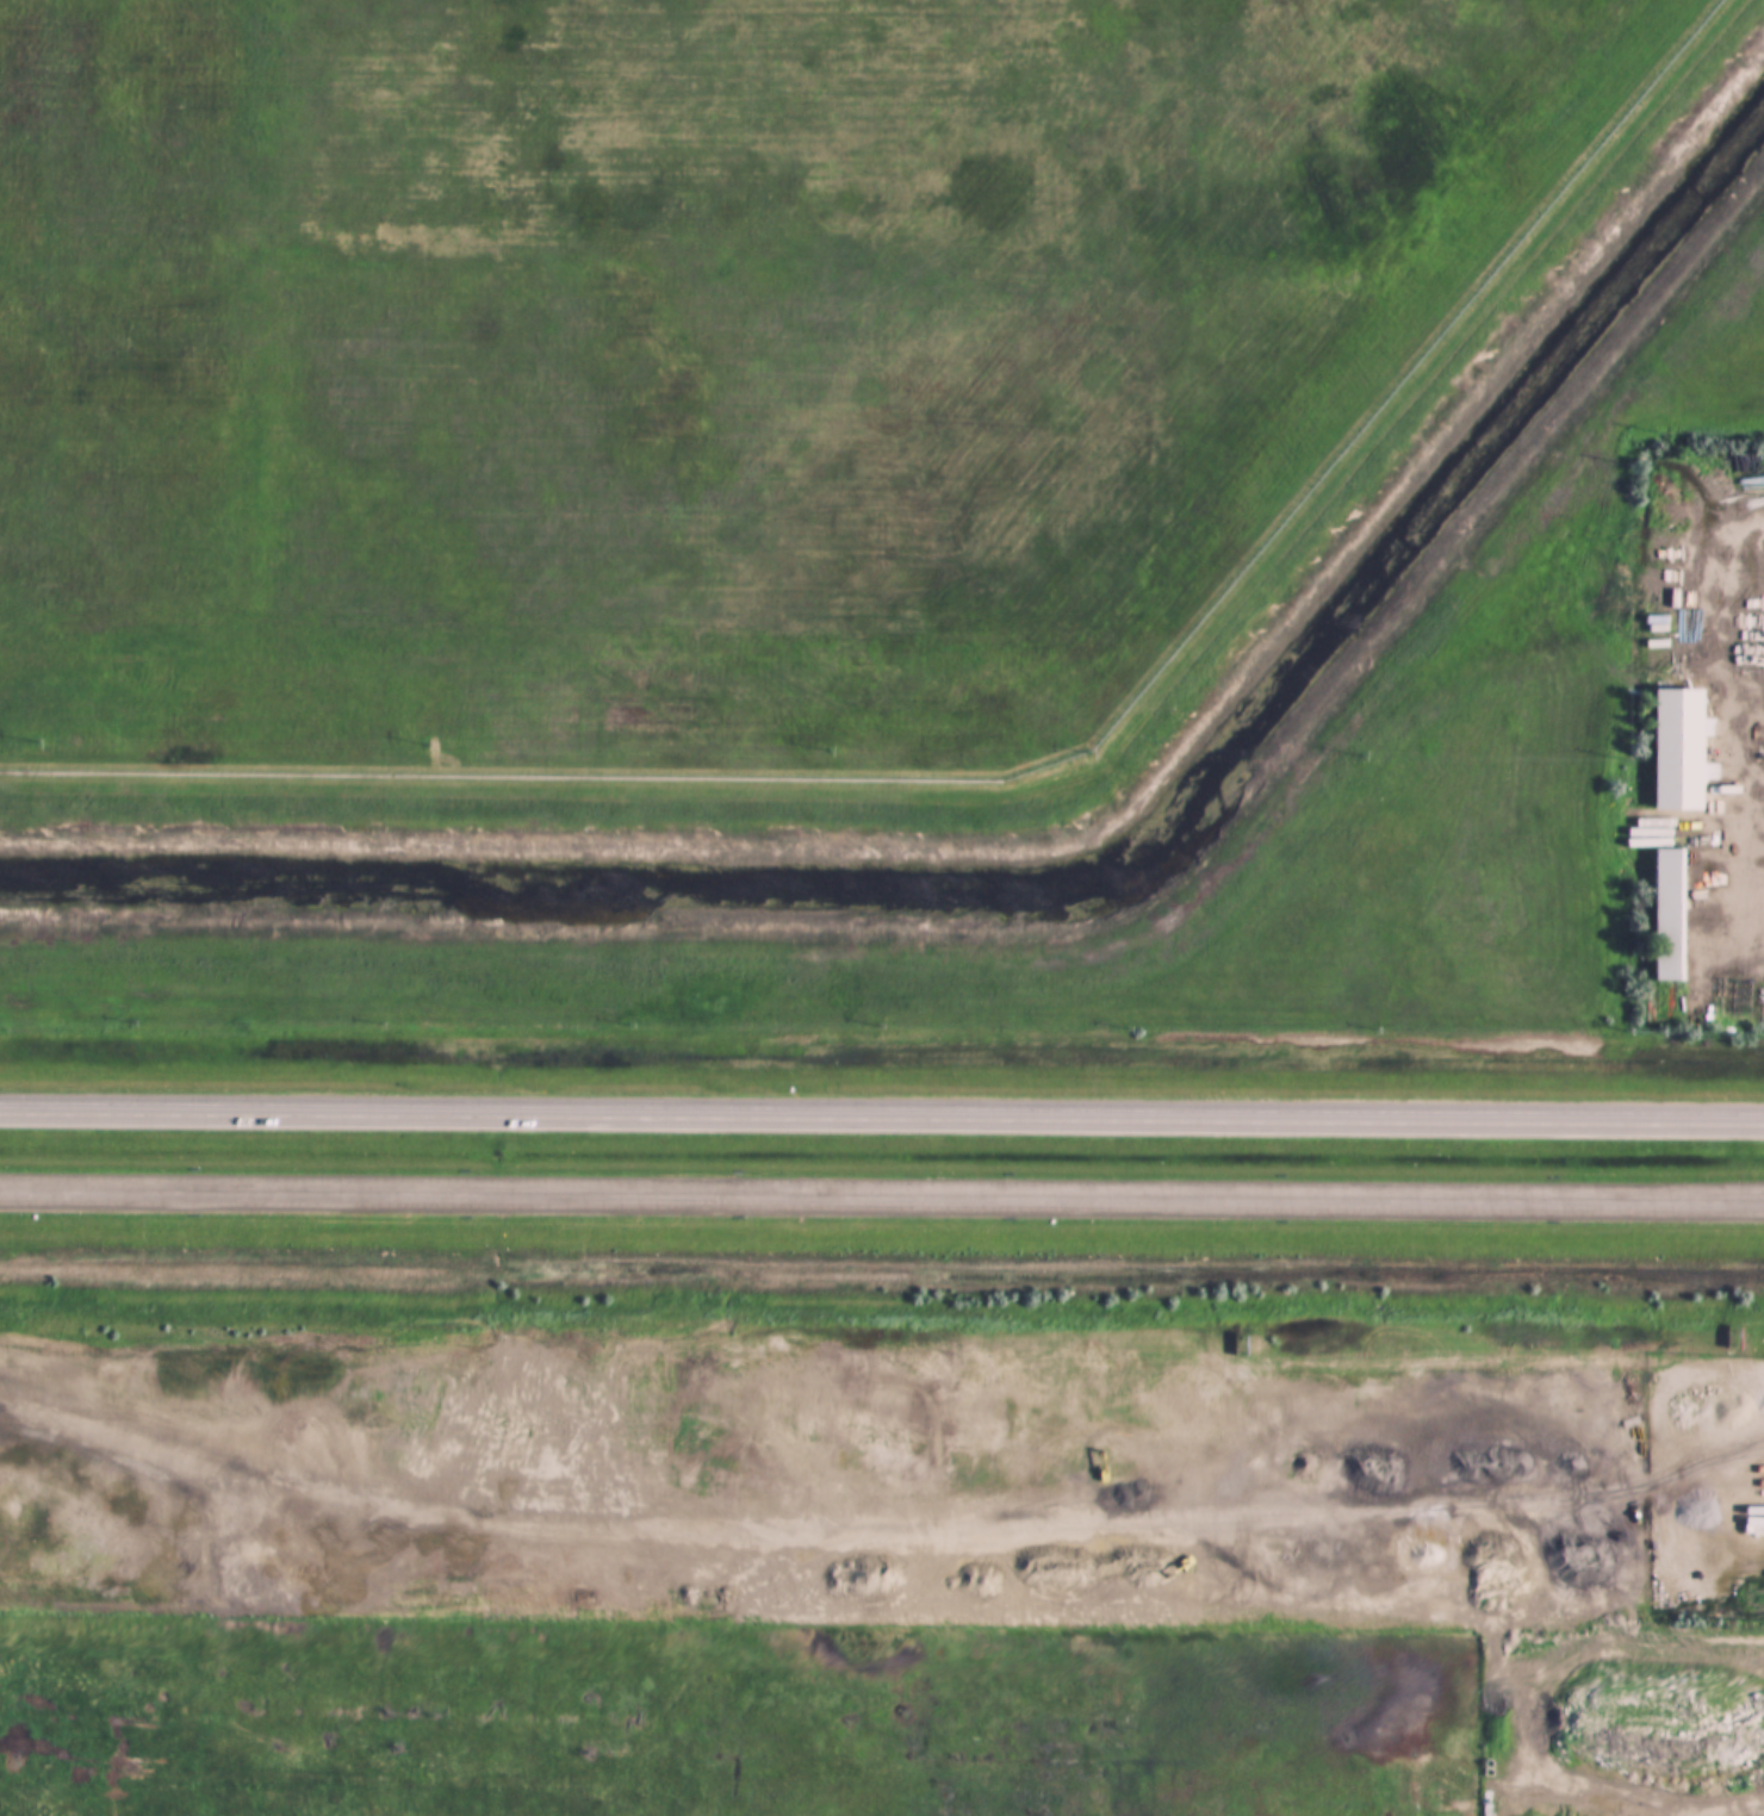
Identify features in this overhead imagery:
airport: (710, 357)
crop: (1479, 660)
building: (1681, 751)
building: (1671, 915)
road: (882, 1117)
road: (881, 1194)
crop: (718, 1719)

